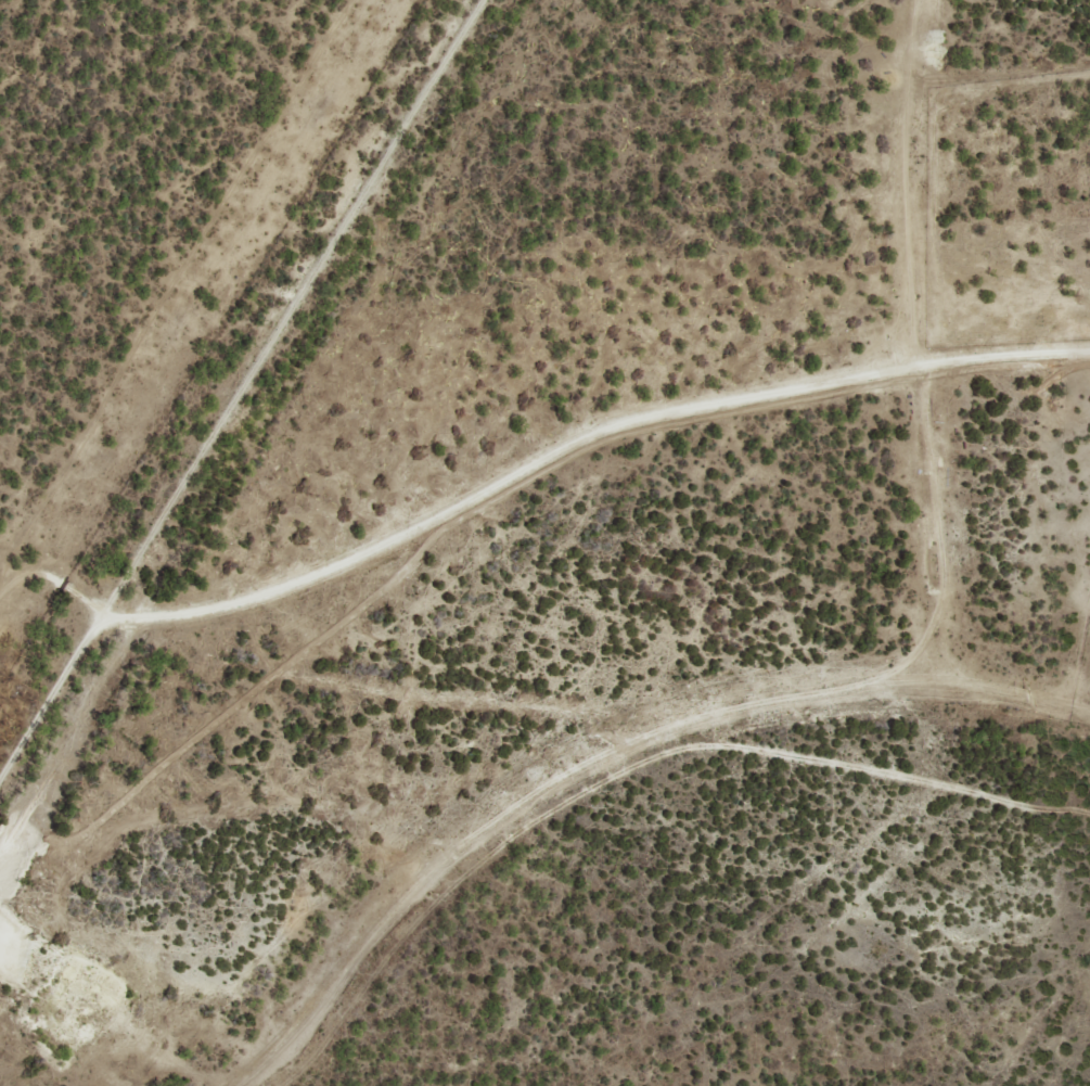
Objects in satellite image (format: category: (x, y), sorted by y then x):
railway: (251, 401)
road: (544, 748)
road: (846, 961)

